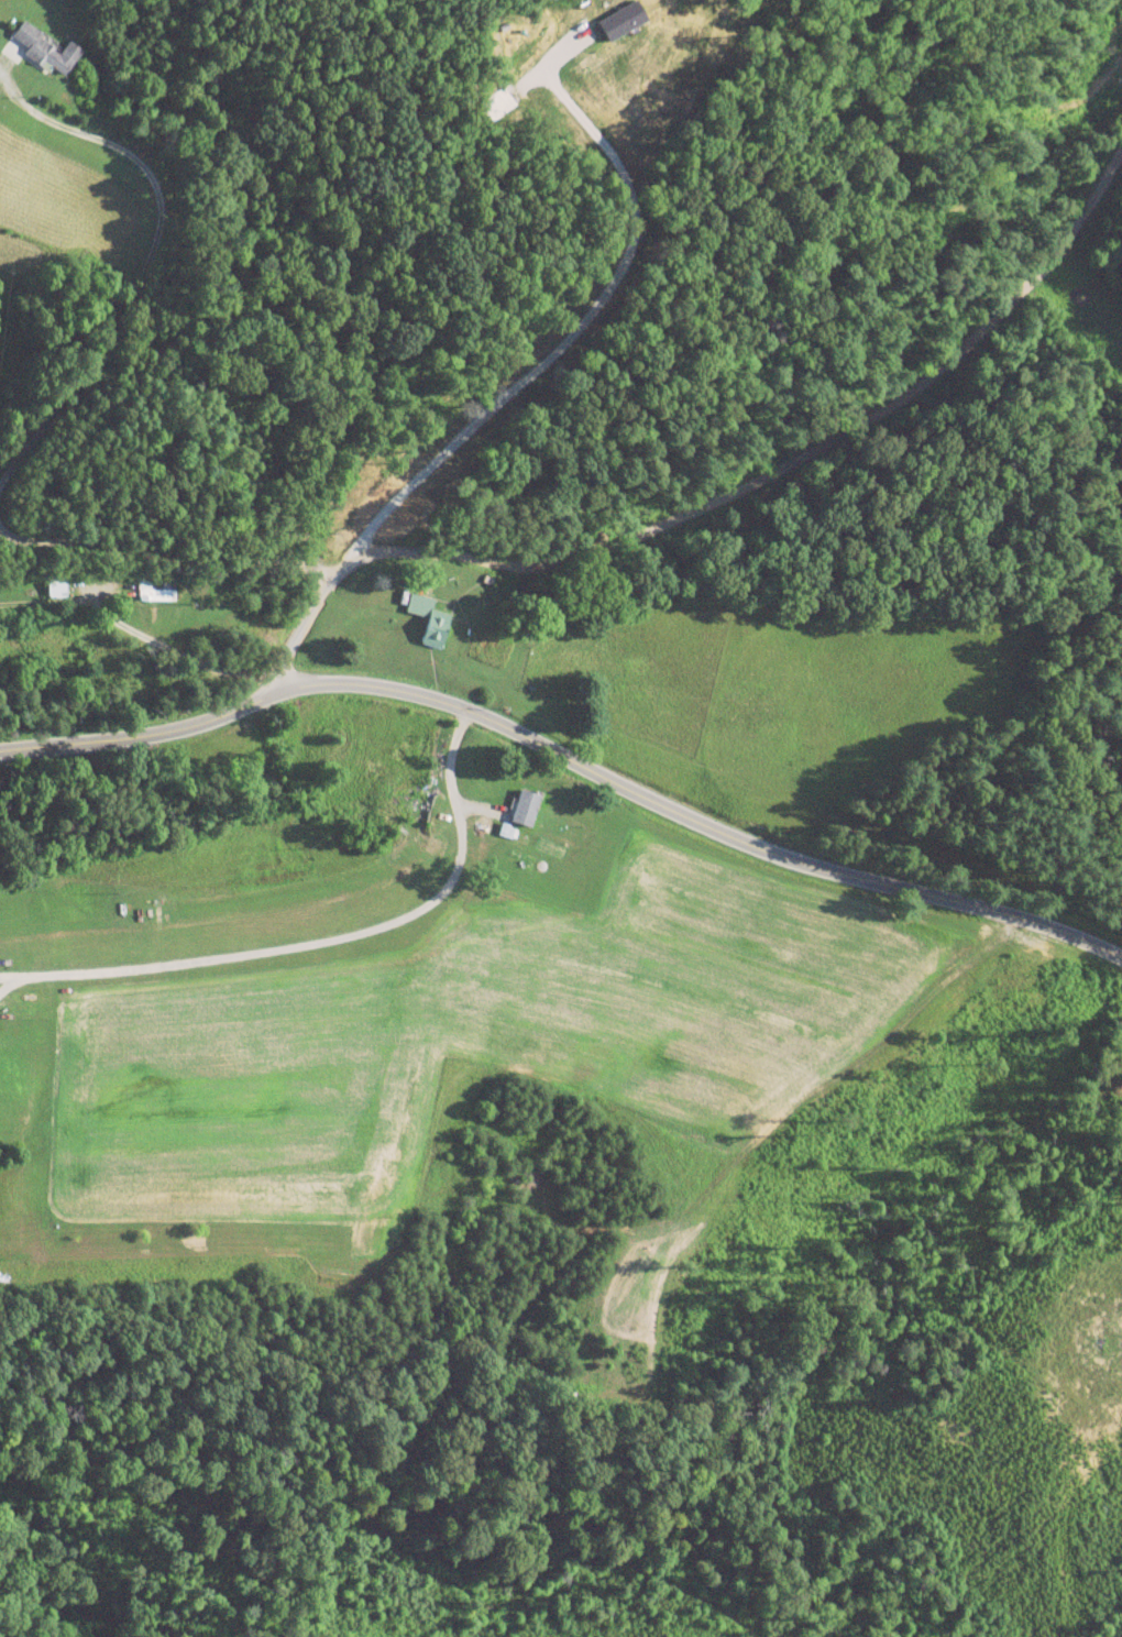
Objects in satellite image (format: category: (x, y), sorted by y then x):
building: (50, 52)
road: (150, 250)
road: (735, 496)
road: (167, 550)
building: (59, 587)
building: (157, 591)
building: (431, 622)
road: (146, 637)
road: (568, 757)
building: (422, 807)
building: (527, 809)
road: (328, 941)
road: (8, 976)
road: (8, 984)

